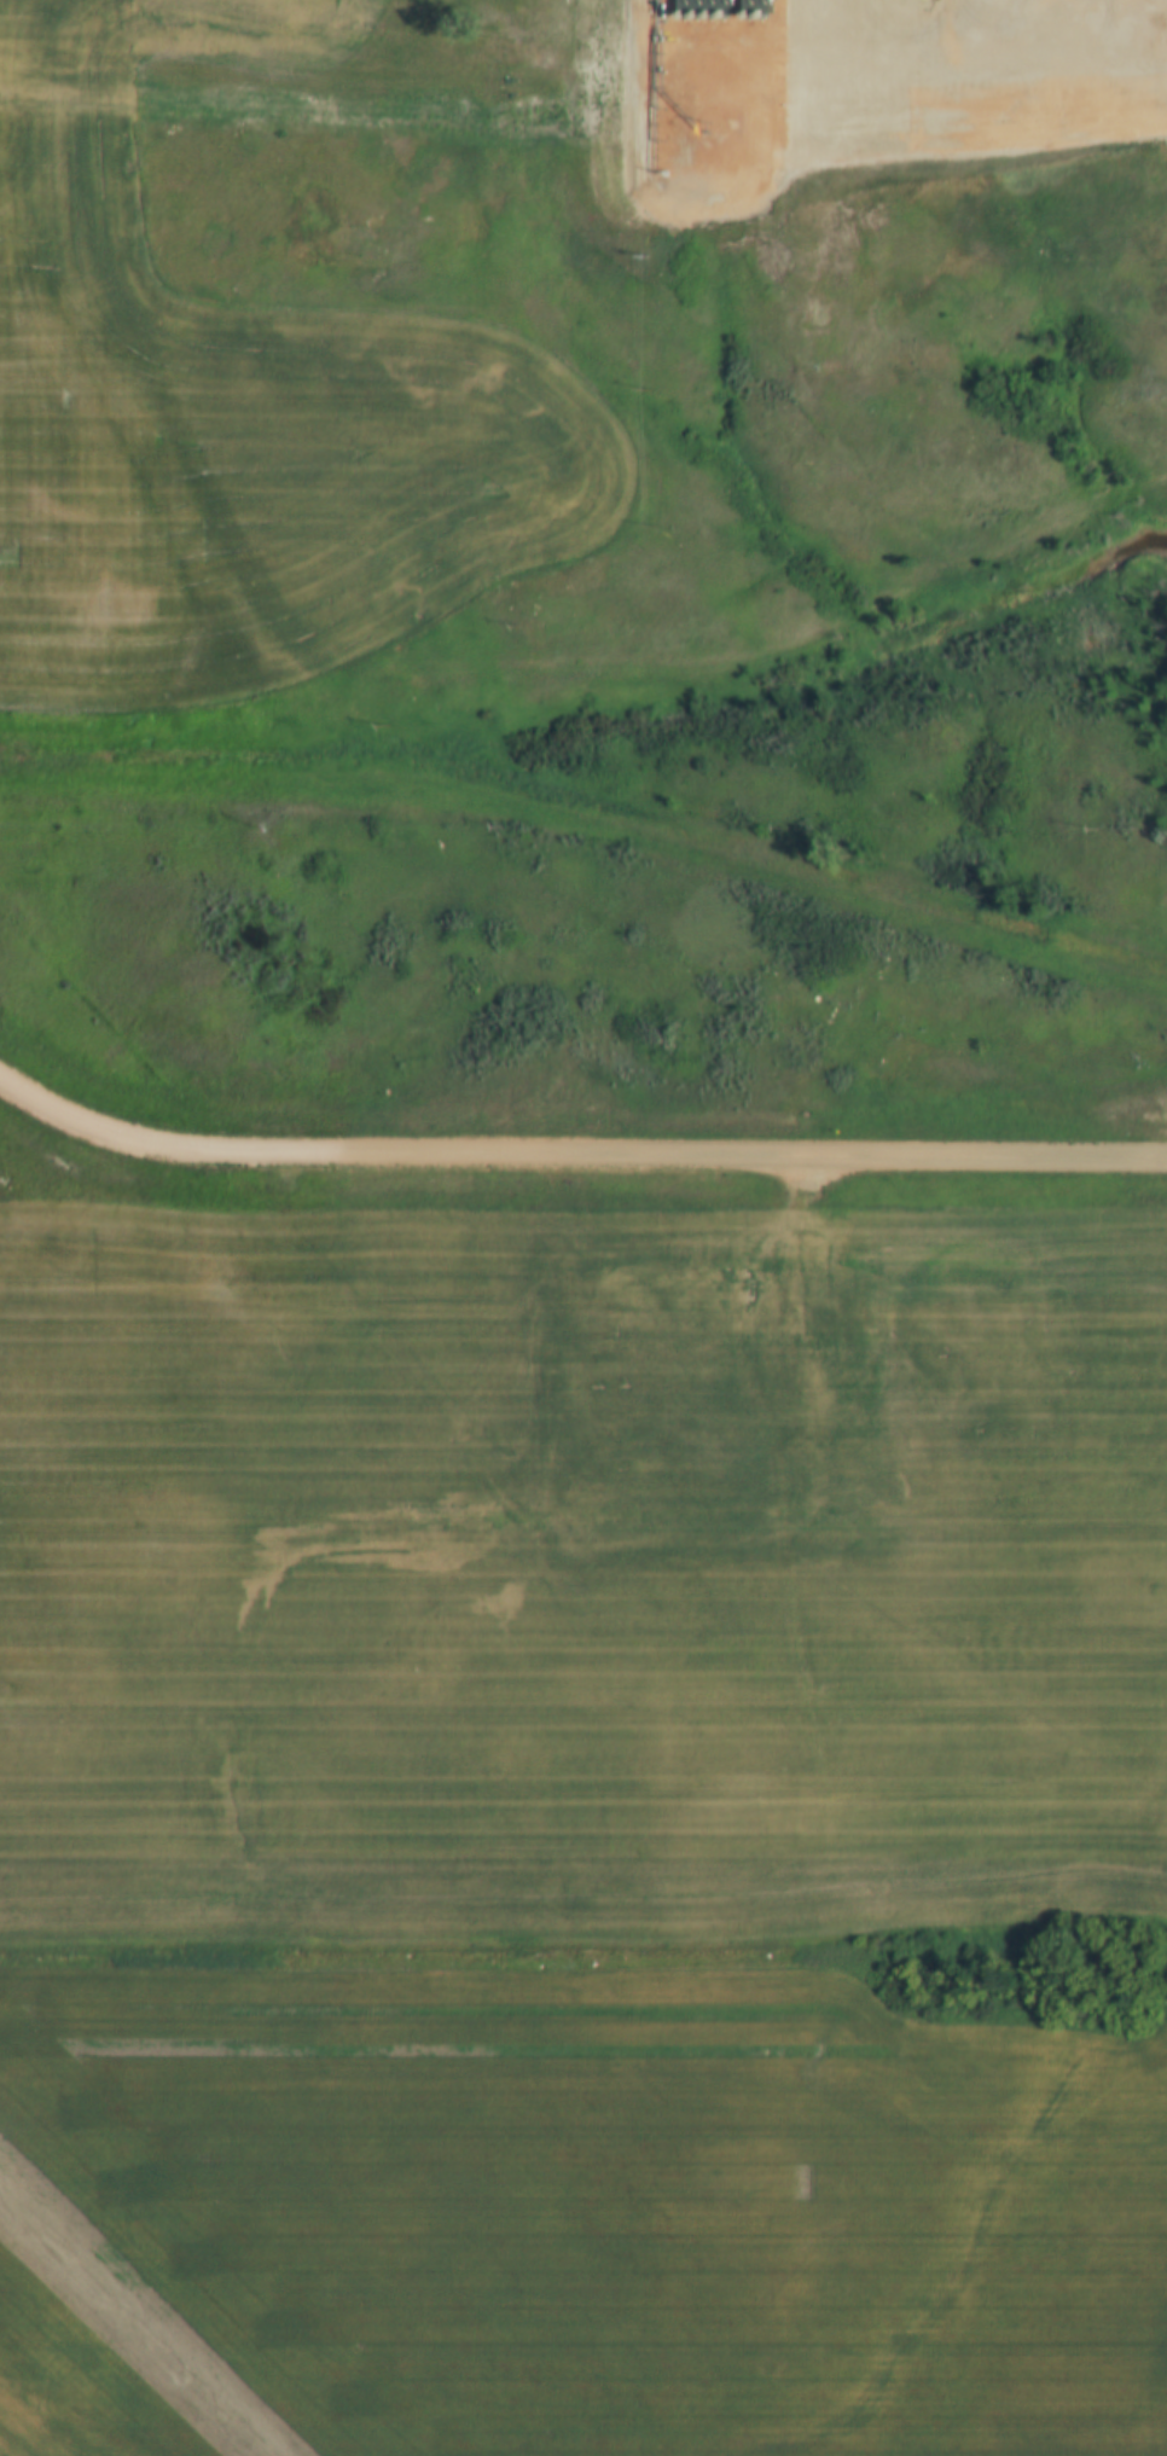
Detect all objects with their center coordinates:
road: (575, 1161)

